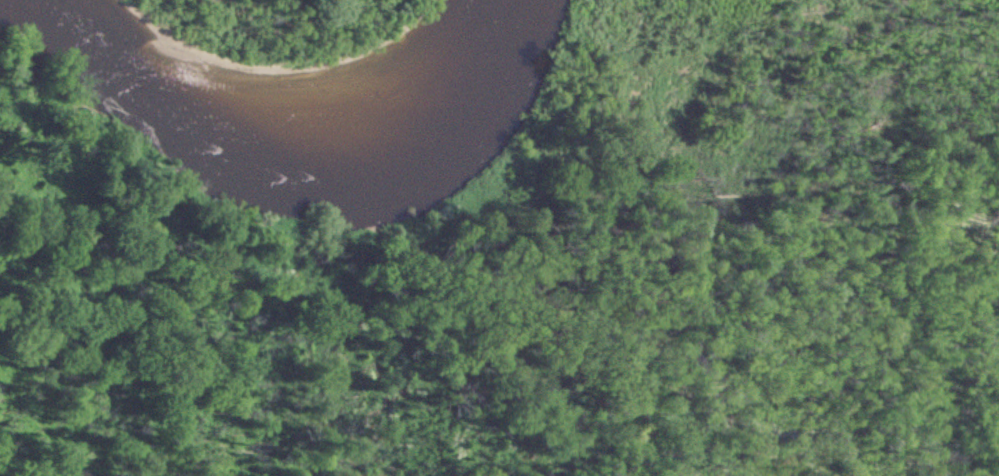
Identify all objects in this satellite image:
road: (562, 35)
river: (279, 122)

